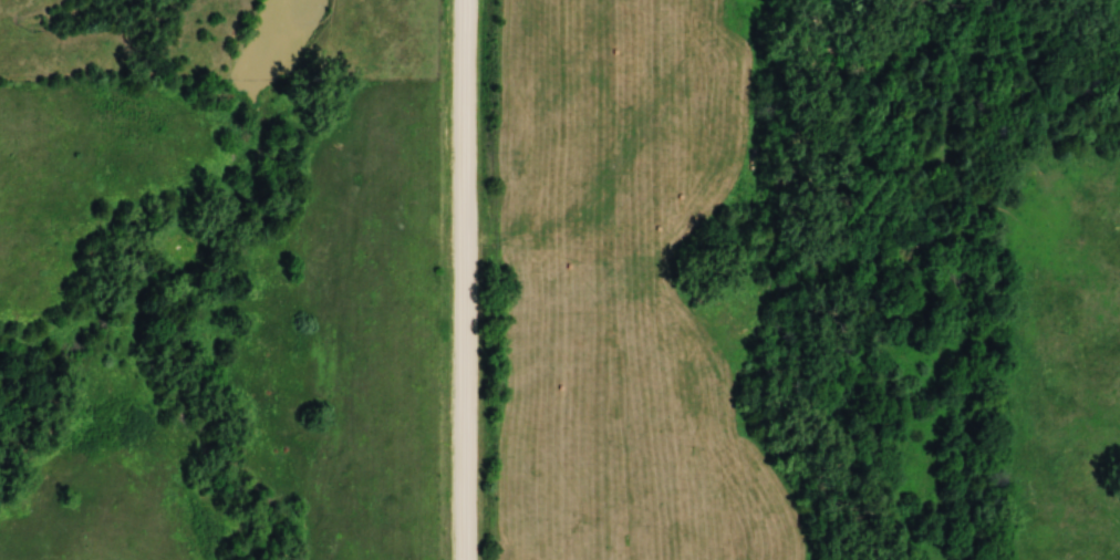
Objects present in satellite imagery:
road: (464, 280)

